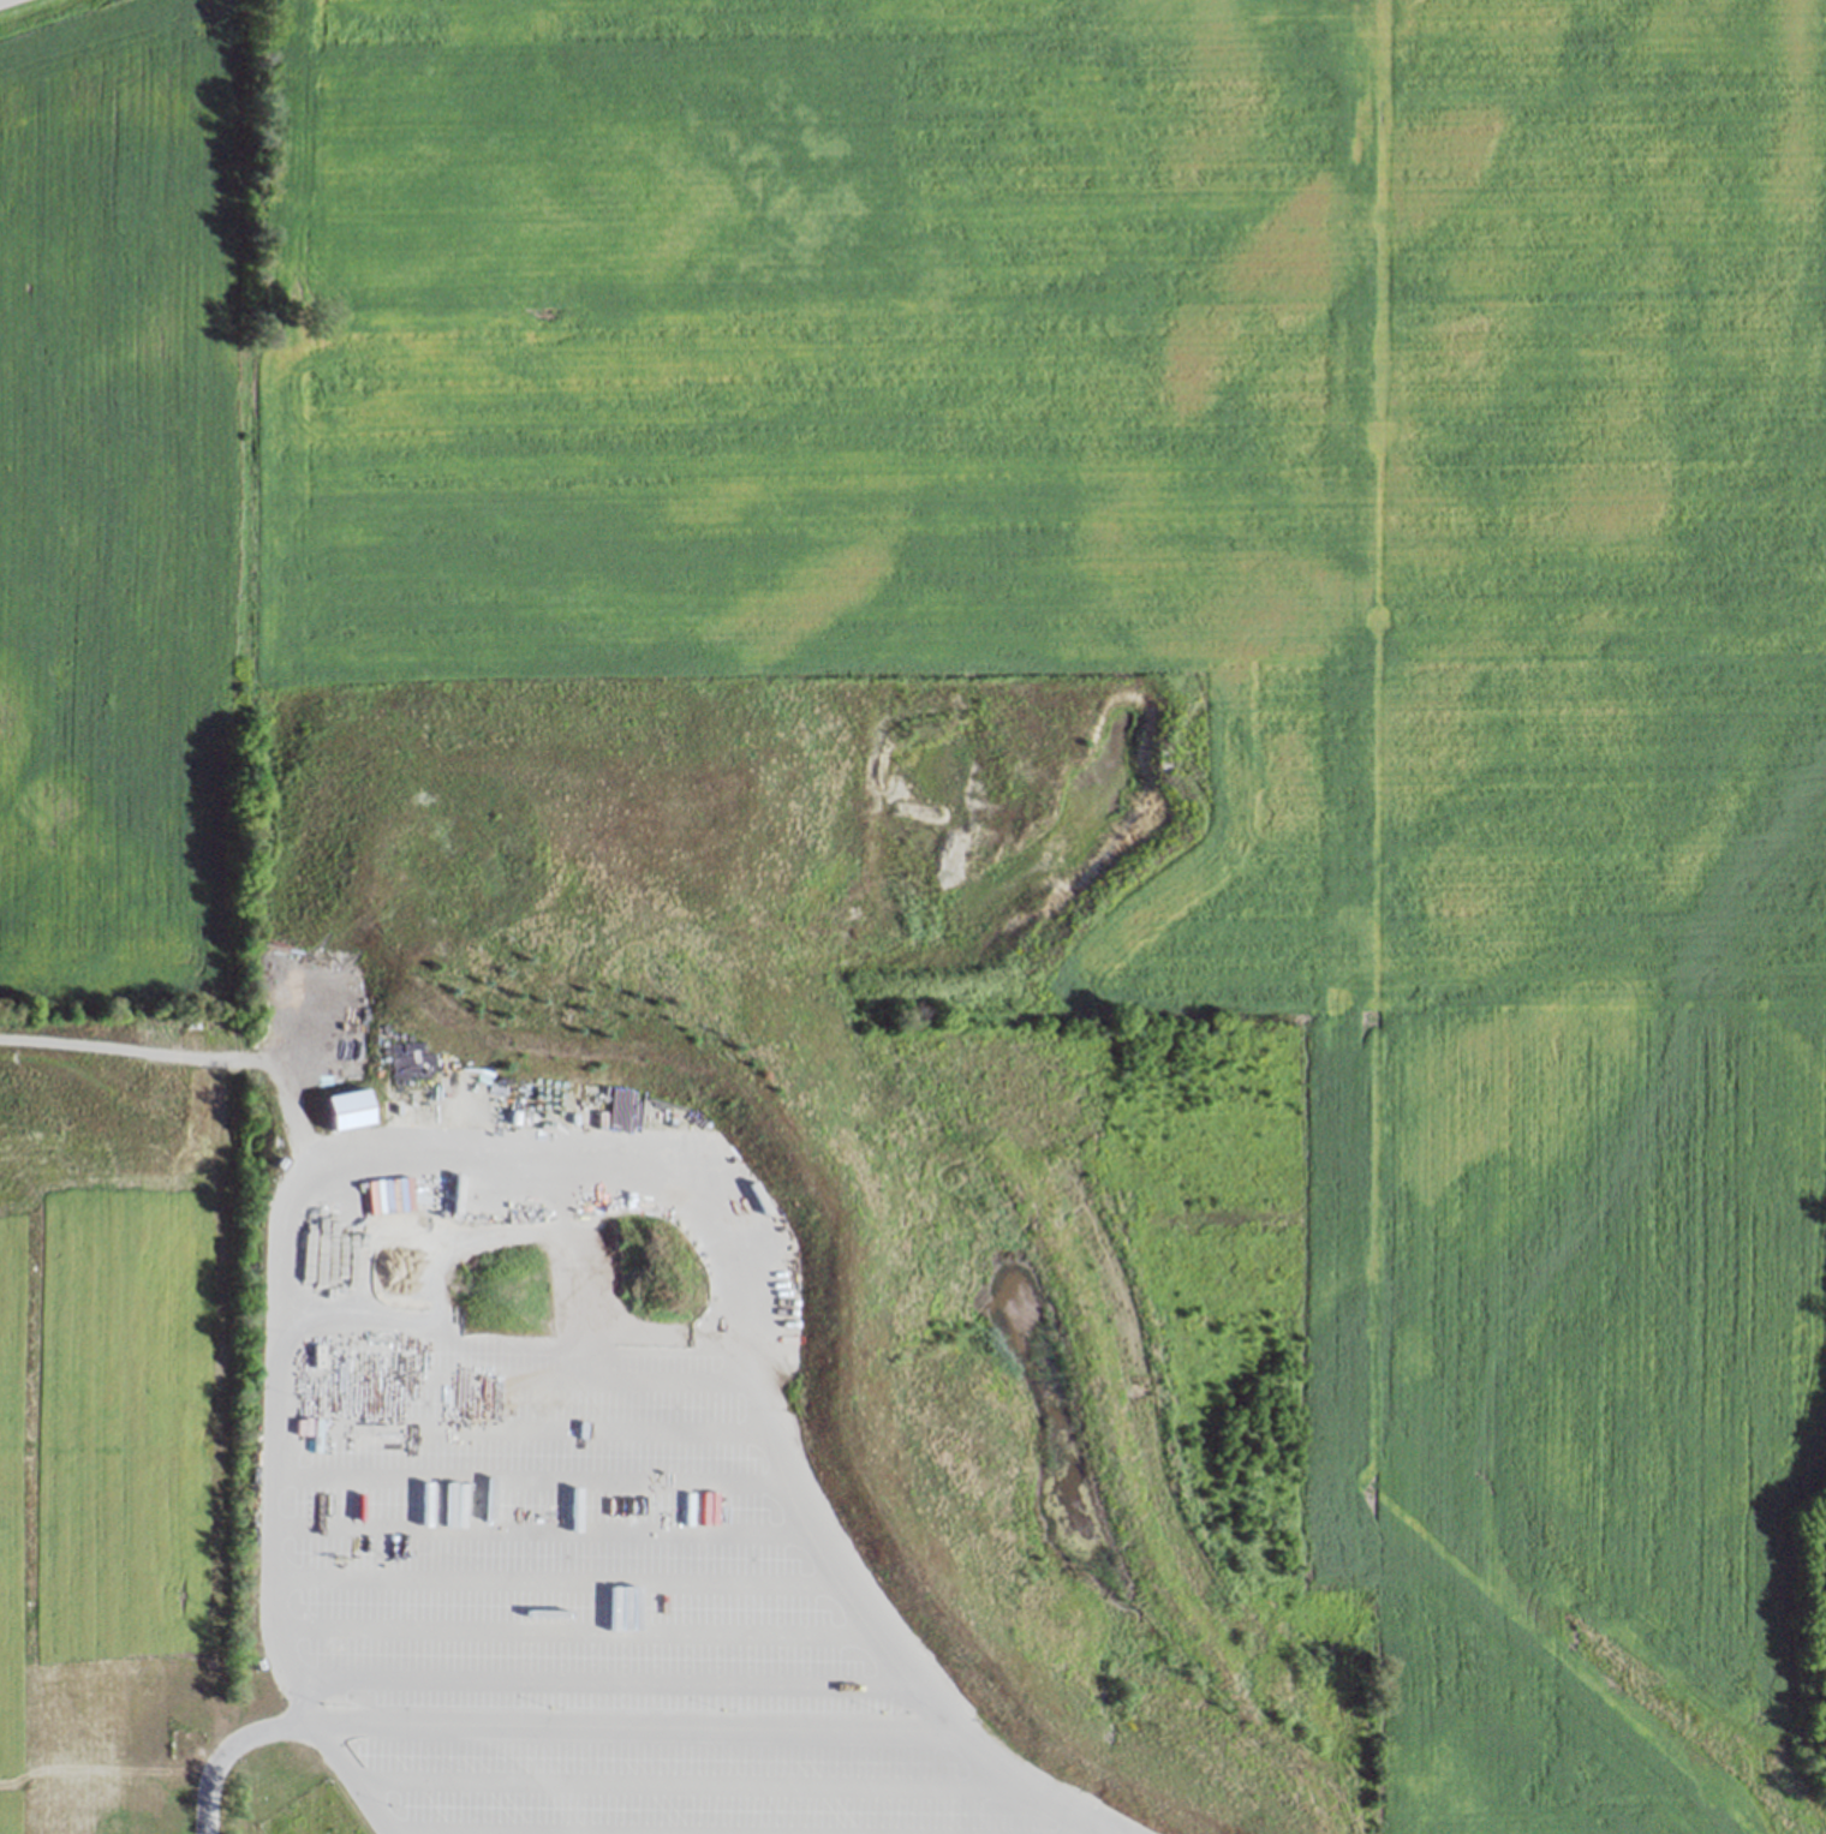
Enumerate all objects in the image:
crop: (126, 502)
road: (553, 1166)
road: (637, 1348)
quarry: (1604, 1421)
road: (560, 1579)
road: (632, 1727)
road: (233, 1750)
road: (686, 1784)

